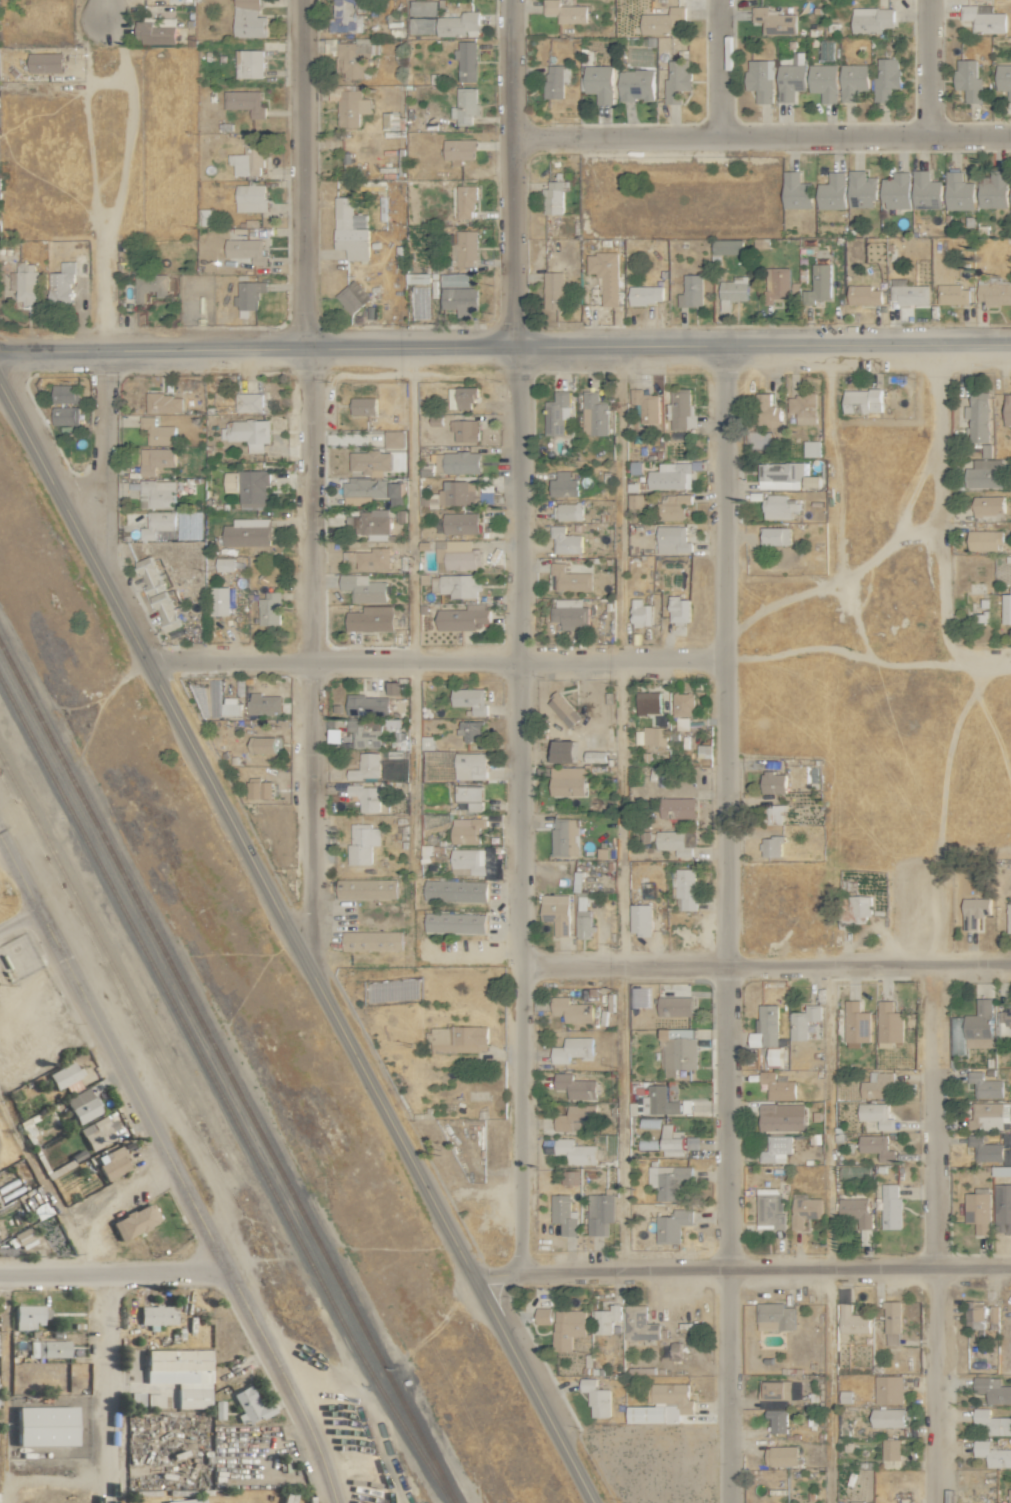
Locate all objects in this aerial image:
road: (104, 11)
building: (565, 12)
building: (422, 16)
building: (345, 17)
building: (248, 19)
building: (984, 19)
building: (871, 20)
building: (661, 21)
building: (774, 21)
building: (459, 25)
building: (155, 31)
building: (355, 57)
building: (466, 61)
building: (45, 63)
building: (250, 64)
road: (928, 67)
road: (715, 68)
building: (886, 78)
building: (677, 79)
building: (1004, 79)
building: (555, 80)
building: (761, 80)
building: (852, 80)
building: (968, 80)
building: (790, 81)
building: (599, 82)
building: (823, 82)
building: (635, 85)
building: (244, 102)
building: (351, 106)
building: (464, 106)
road: (761, 135)
road: (75, 136)
building: (458, 149)
building: (248, 158)
road: (513, 173)
road: (107, 187)
building: (861, 190)
building: (992, 190)
building: (796, 191)
building: (896, 191)
building: (925, 191)
building: (958, 191)
building: (832, 192)
building: (1010, 192)
building: (555, 196)
building: (250, 197)
building: (464, 202)
building: (350, 230)
building: (727, 247)
building: (463, 248)
building: (245, 250)
building: (605, 275)
building: (416, 278)
building: (63, 282)
building: (26, 283)
building: (819, 283)
building: (777, 285)
building: (149, 286)
building: (553, 290)
building: (691, 291)
building: (733, 291)
building: (995, 293)
building: (908, 294)
building: (645, 295)
building: (863, 295)
building: (952, 295)
building: (248, 296)
building: (352, 297)
building: (460, 300)
road: (762, 345)
road: (256, 348)
building: (65, 393)
building: (461, 397)
building: (862, 400)
building: (163, 402)
building: (248, 402)
building: (645, 404)
building: (363, 405)
building: (801, 408)
building: (681, 409)
building: (1007, 409)
building: (767, 410)
building: (556, 413)
building: (593, 414)
building: (64, 415)
building: (978, 416)
building: (463, 427)
building: (157, 431)
building: (246, 433)
building: (393, 438)
road: (103, 442)
building: (811, 448)
building: (155, 459)
building: (370, 460)
building: (461, 462)
building: (984, 473)
building: (778, 474)
building: (670, 476)
building: (230, 481)
building: (811, 481)
building: (563, 484)
building: (252, 485)
road: (308, 486)
building: (375, 492)
building: (158, 493)
building: (456, 493)
building: (635, 502)
building: (675, 505)
building: (988, 505)
building: (778, 506)
building: (569, 511)
road: (943, 511)
building: (460, 522)
building: (371, 524)
building: (159, 525)
building: (246, 532)
building: (774, 535)
building: (672, 539)
building: (565, 540)
building: (985, 540)
building: (457, 555)
building: (368, 558)
building: (224, 563)
building: (570, 579)
building: (456, 585)
building: (362, 588)
building: (157, 593)
building: (219, 600)
building: (269, 608)
building: (1006, 608)
building: (678, 609)
building: (569, 613)
building: (641, 613)
building: (463, 617)
building: (370, 618)
road: (414, 654)
road: (867, 656)
road: (436, 661)
building: (392, 687)
building: (469, 699)
building: (264, 703)
building: (367, 705)
building: (561, 705)
building: (648, 705)
building: (230, 706)
building: (683, 710)
building: (470, 730)
building: (369, 731)
building: (654, 735)
building: (261, 744)
building: (594, 756)
building: (365, 766)
building: (469, 766)
building: (567, 780)
building: (772, 782)
building: (258, 788)
building: (365, 796)
building: (469, 796)
building: (677, 807)
road: (622, 808)
road: (518, 809)
building: (773, 814)
building: (466, 830)
building: (565, 837)
building: (676, 841)
building: (361, 842)
building: (771, 846)
building: (467, 862)
building: (685, 887)
building: (366, 888)
building: (455, 890)
building: (974, 911)
building: (556, 912)
building: (854, 912)
building: (1008, 917)
building: (583, 918)
road: (19, 919)
building: (640, 919)
building: (454, 922)
road: (725, 924)
railway: (94, 931)
building: (372, 940)
road: (293, 943)
road: (765, 965)
building: (674, 1004)
building: (571, 1009)
building: (803, 1021)
building: (1005, 1021)
building: (856, 1022)
building: (889, 1023)
building: (979, 1025)
building: (458, 1039)
building: (572, 1049)
building: (775, 1056)
railway: (228, 1072)
building: (61, 1075)
building: (876, 1084)
building: (985, 1085)
building: (575, 1086)
building: (776, 1086)
railway: (220, 1093)
building: (659, 1101)
building: (79, 1105)
building: (876, 1115)
building: (990, 1115)
building: (575, 1117)
building: (781, 1117)
building: (96, 1132)
building: (676, 1141)
building: (875, 1146)
building: (776, 1149)
building: (985, 1149)
building: (575, 1151)
building: (111, 1163)
road: (172, 1167)
building: (855, 1173)
building: (570, 1177)
building: (668, 1180)
road: (44, 1188)
building: (890, 1207)
building: (804, 1209)
building: (770, 1210)
building: (978, 1210)
building: (1003, 1210)
building: (856, 1211)
building: (599, 1213)
building: (563, 1214)
building: (132, 1221)
building: (672, 1225)
road: (825, 1233)
road: (930, 1233)
building: (22, 1237)
road: (742, 1268)
road: (113, 1272)
building: (975, 1314)
building: (993, 1314)
building: (154, 1315)
building: (542, 1315)
building: (28, 1316)
building: (775, 1317)
building: (605, 1319)
building: (852, 1320)
building: (891, 1322)
building: (639, 1324)
building: (568, 1329)
building: (46, 1349)
building: (178, 1374)
road: (2, 1375)
road: (104, 1387)
building: (888, 1389)
building: (992, 1390)
building: (773, 1392)
building: (595, 1397)
building: (661, 1404)
building: (247, 1405)
building: (887, 1418)
building: (777, 1420)
building: (992, 1422)
building: (41, 1426)
building: (891, 1453)
building: (992, 1454)
building: (781, 1456)
road: (52, 1477)
building: (1009, 1495)
building: (183, 1501)

